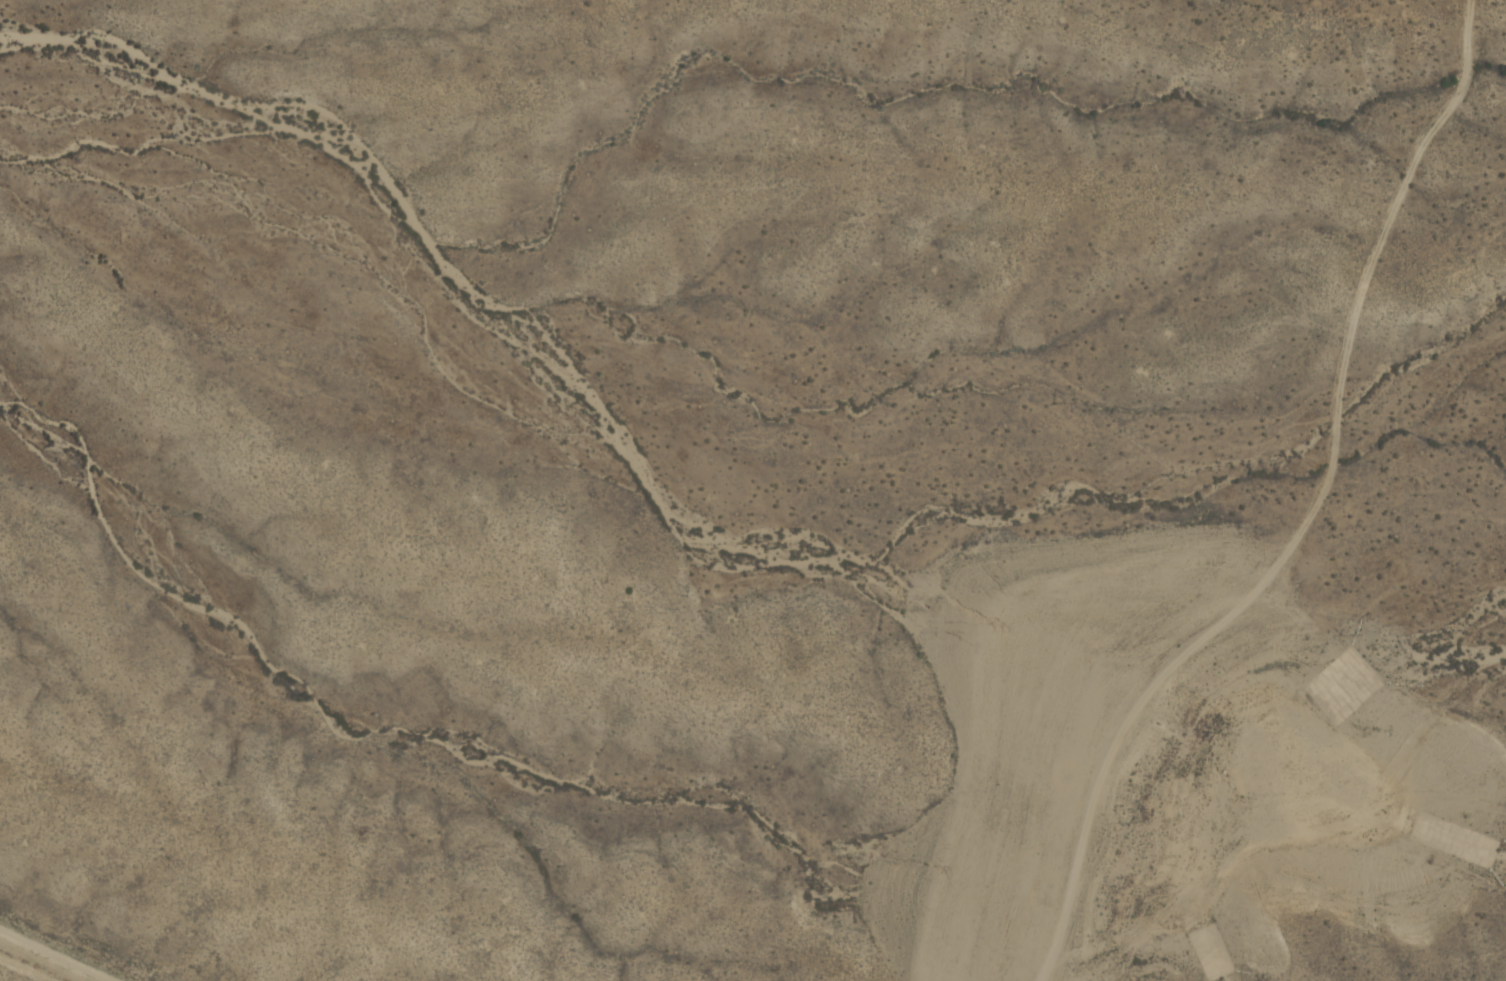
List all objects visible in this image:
road: (1304, 516)
road: (63, 951)

